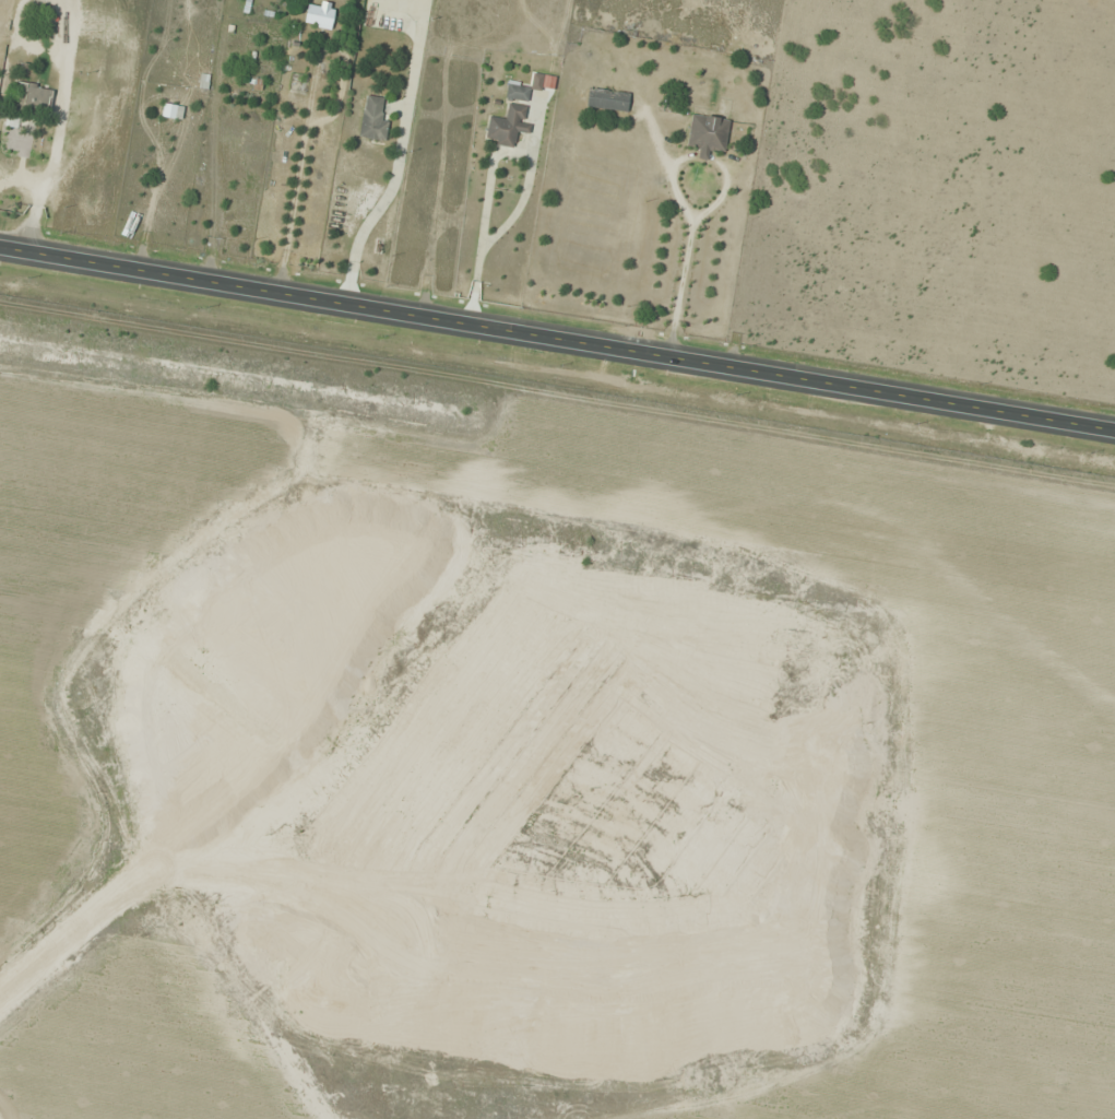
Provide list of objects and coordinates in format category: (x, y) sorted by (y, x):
building: (320, 14)
building: (37, 98)
building: (608, 99)
building: (169, 110)
building: (509, 115)
building: (373, 117)
building: (708, 133)
road: (557, 339)
landfill: (458, 742)

